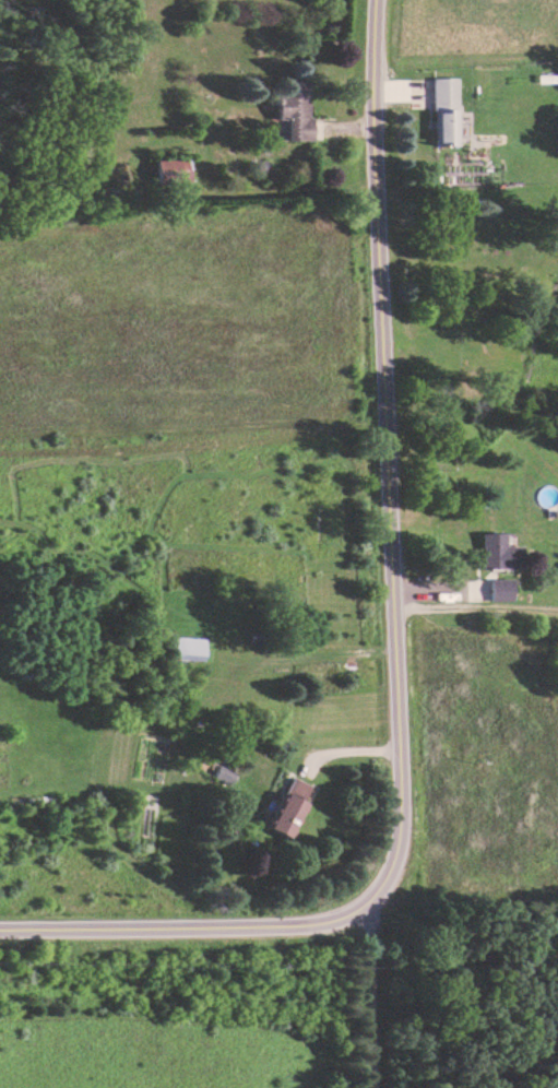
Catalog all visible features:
building: (548, 79)
building: (296, 109)
building: (446, 113)
building: (173, 173)
road: (382, 448)
building: (501, 552)
road: (473, 611)
building: (190, 649)
crop: (488, 766)
building: (293, 807)
road: (195, 929)

